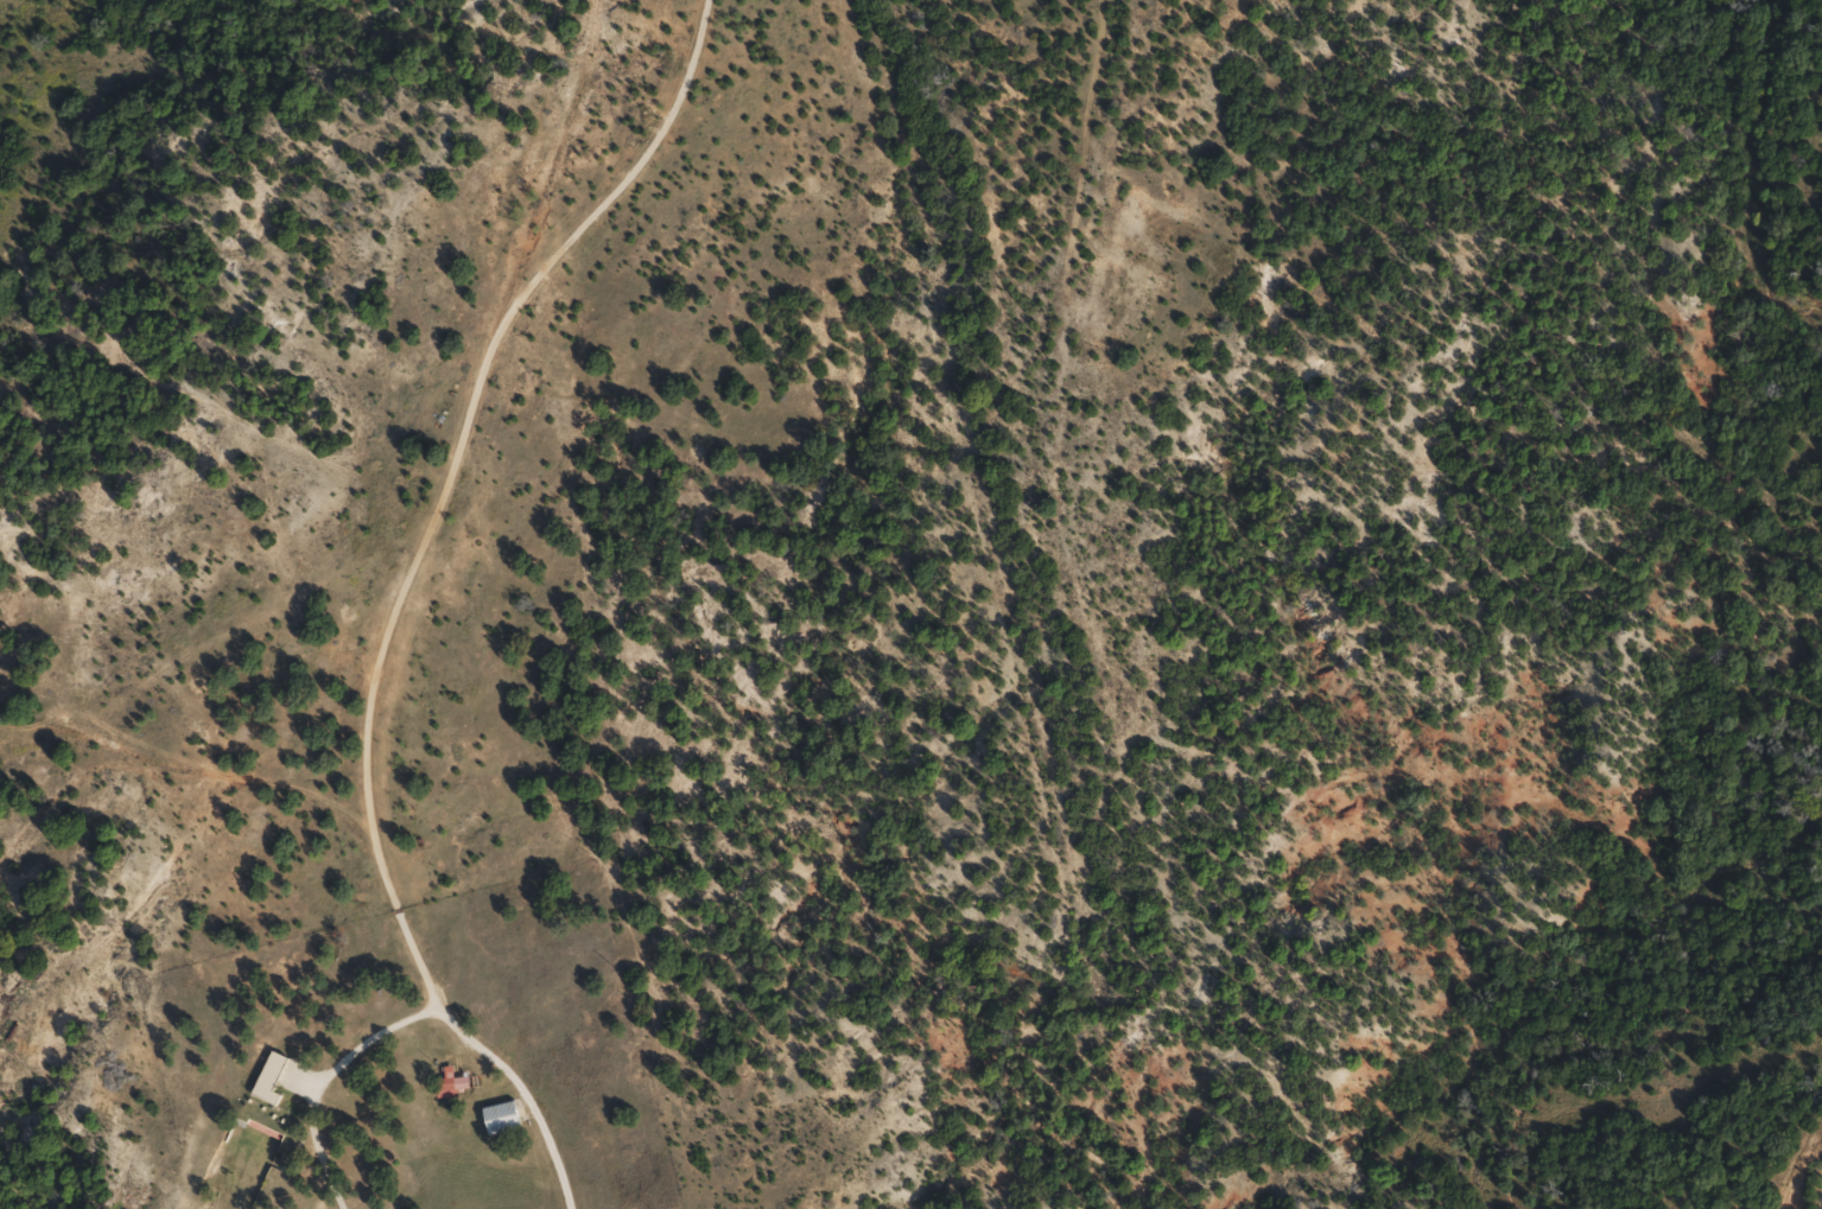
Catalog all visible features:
road: (421, 1013)
building: (273, 1089)
building: (504, 1127)

